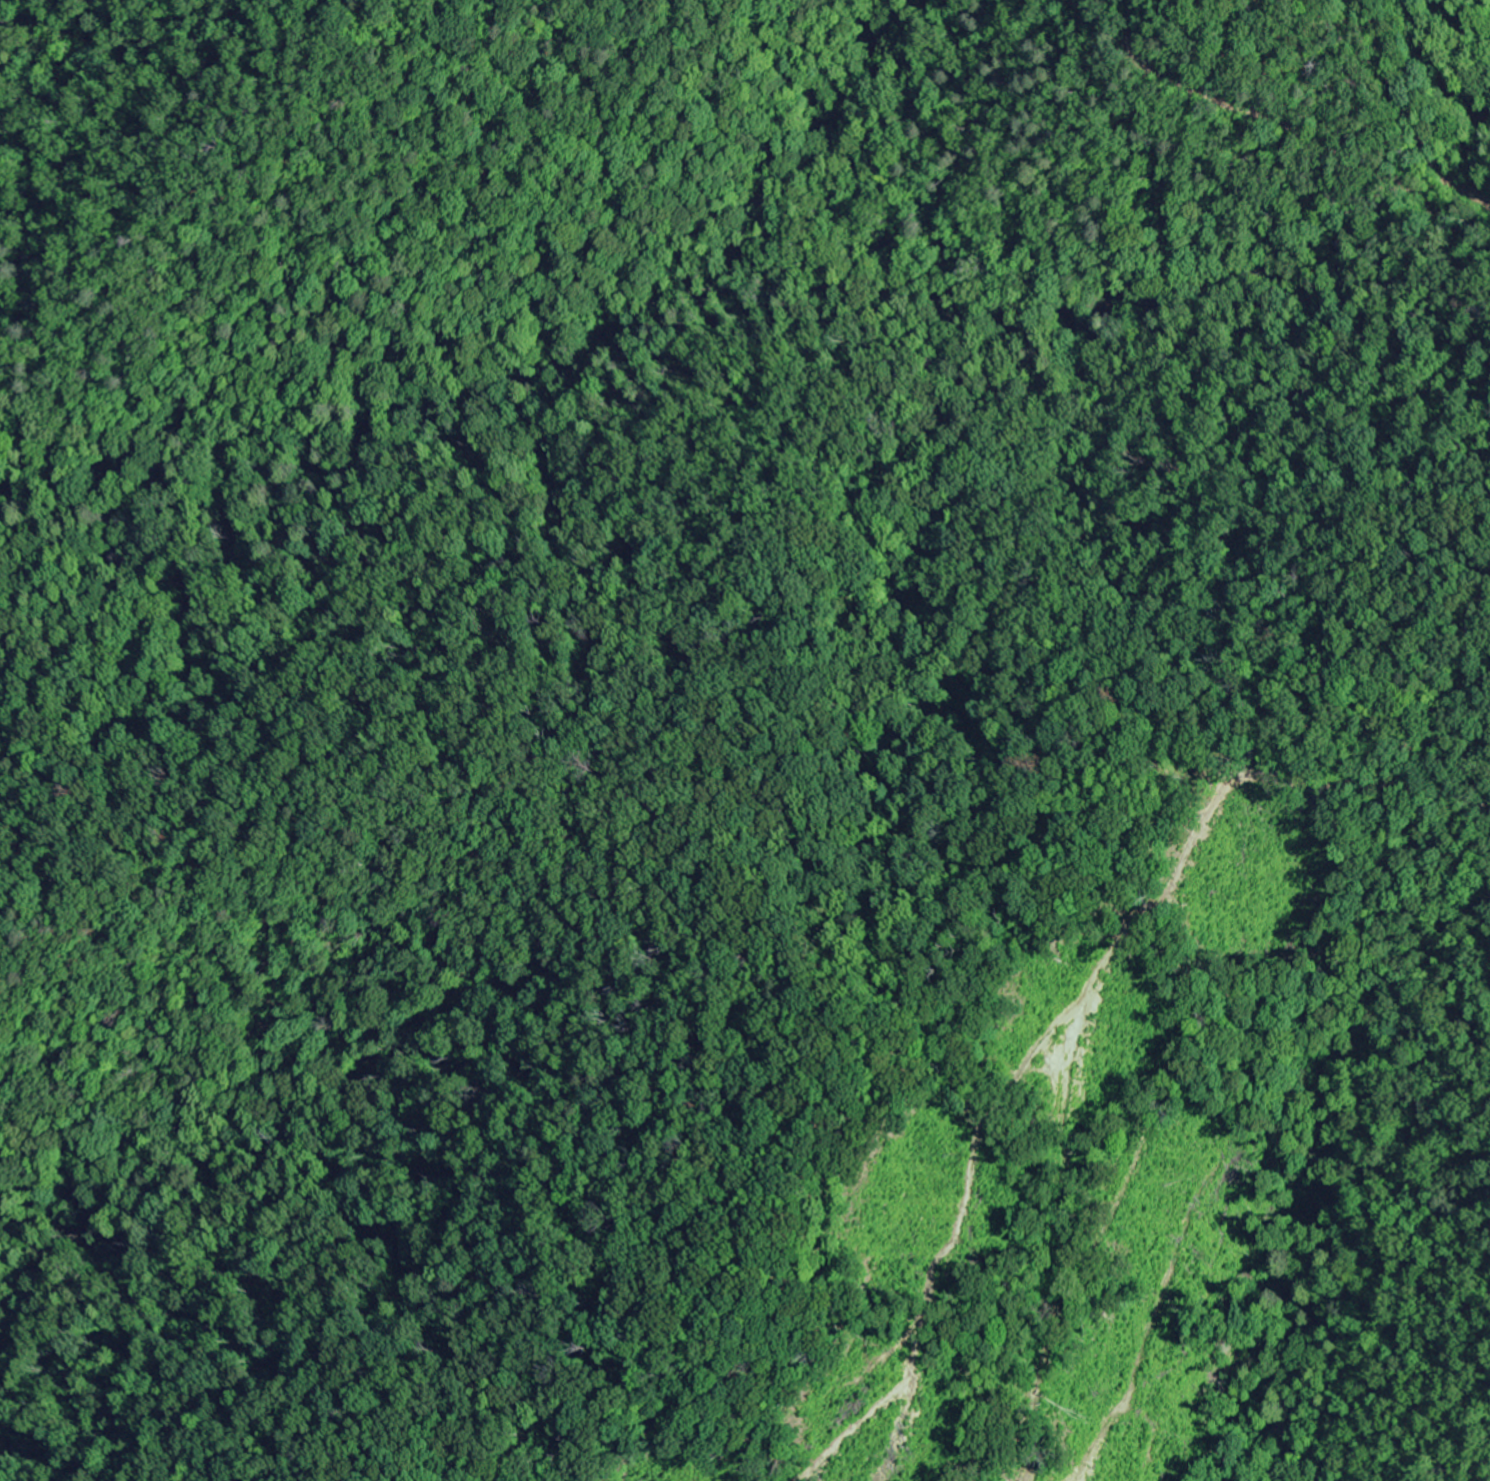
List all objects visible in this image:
road: (1338, 511)

